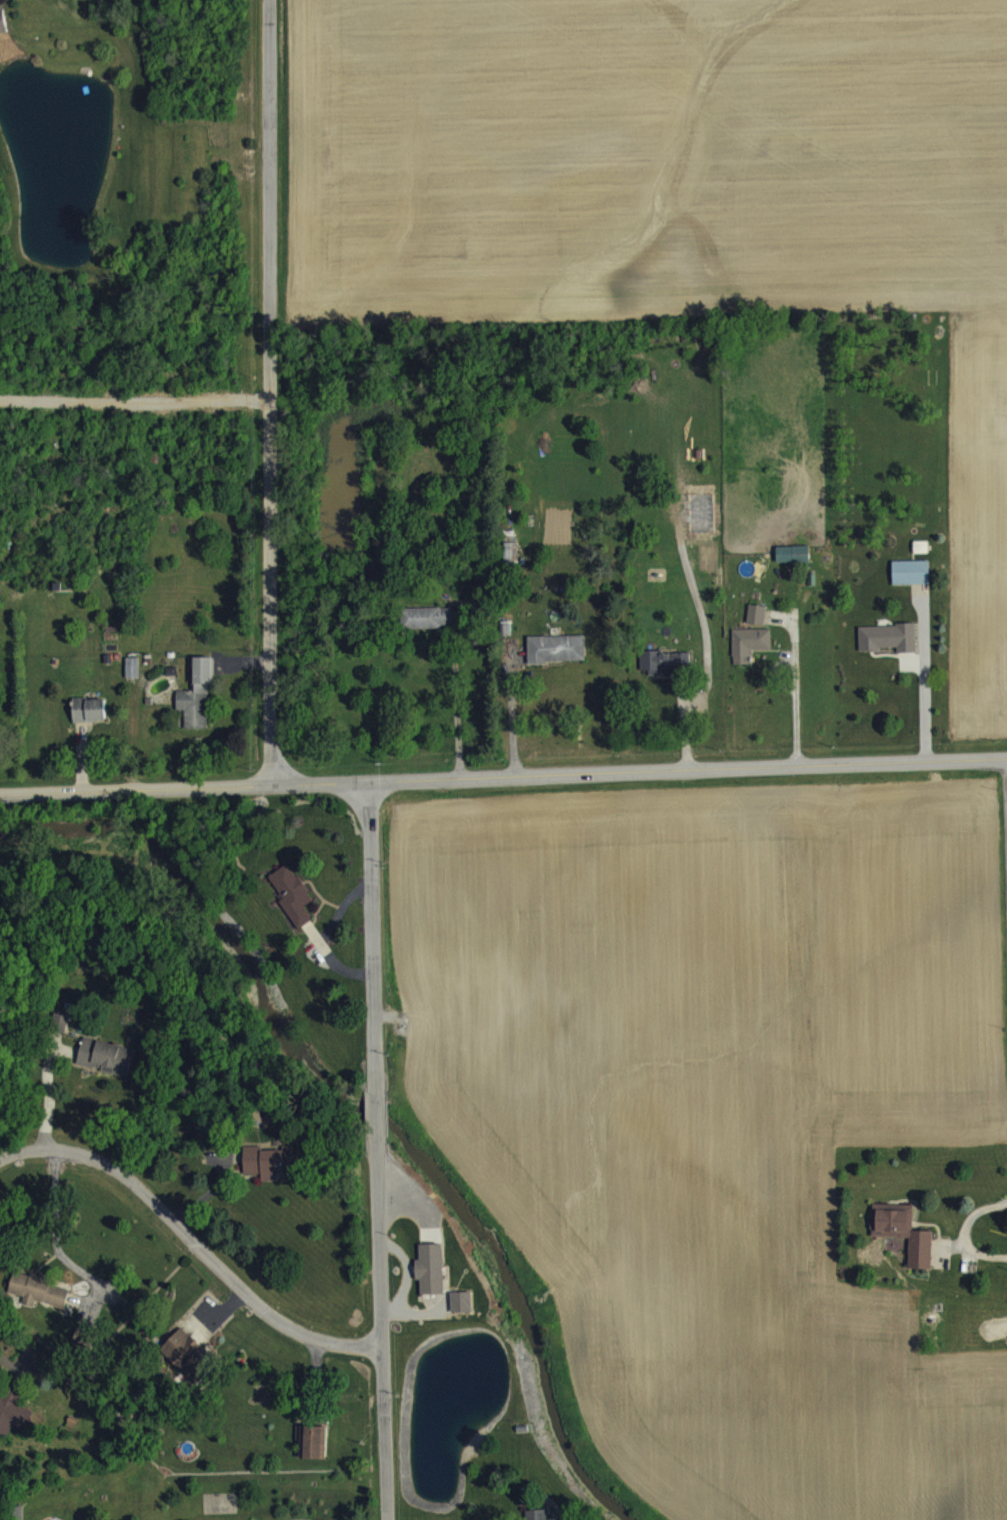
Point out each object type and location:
building: (3, 34)
road: (272, 395)
road: (136, 399)
building: (509, 566)
building: (792, 566)
building: (910, 584)
building: (756, 626)
building: (427, 629)
building: (887, 649)
building: (748, 655)
building: (555, 660)
building: (663, 673)
building: (132, 680)
road: (924, 685)
road: (795, 690)
building: (196, 709)
road: (455, 715)
road: (511, 718)
building: (89, 722)
road: (503, 781)
road: (1006, 797)
building: (292, 906)
road: (371, 948)
building: (60, 1035)
building: (104, 1068)
road: (47, 1094)
road: (377, 1120)
road: (21, 1150)
building: (268, 1174)
road: (1004, 1240)
road: (54, 1243)
building: (920, 1246)
road: (208, 1254)
building: (430, 1281)
building: (38, 1302)
building: (461, 1314)
road: (381, 1325)
road: (15, 1362)
building: (187, 1366)
building: (12, 1422)
building: (311, 1453)

